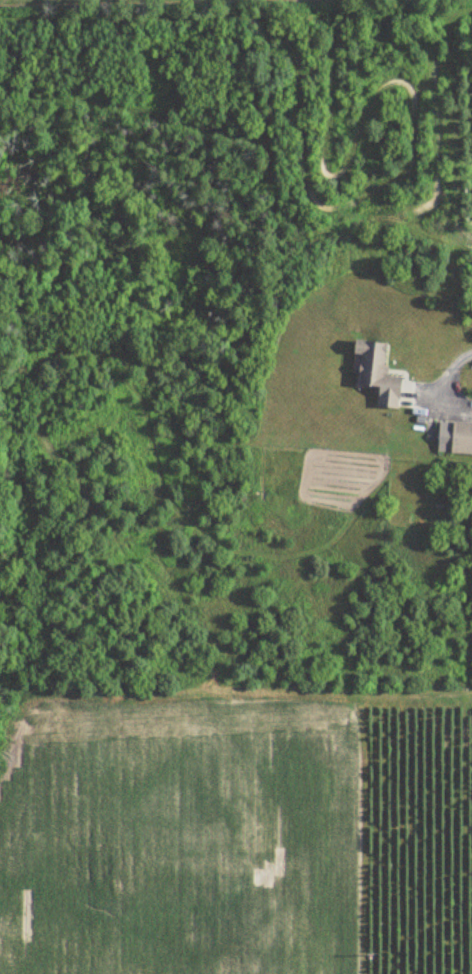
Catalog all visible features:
building: (375, 372)
road: (441, 379)
building: (454, 437)

